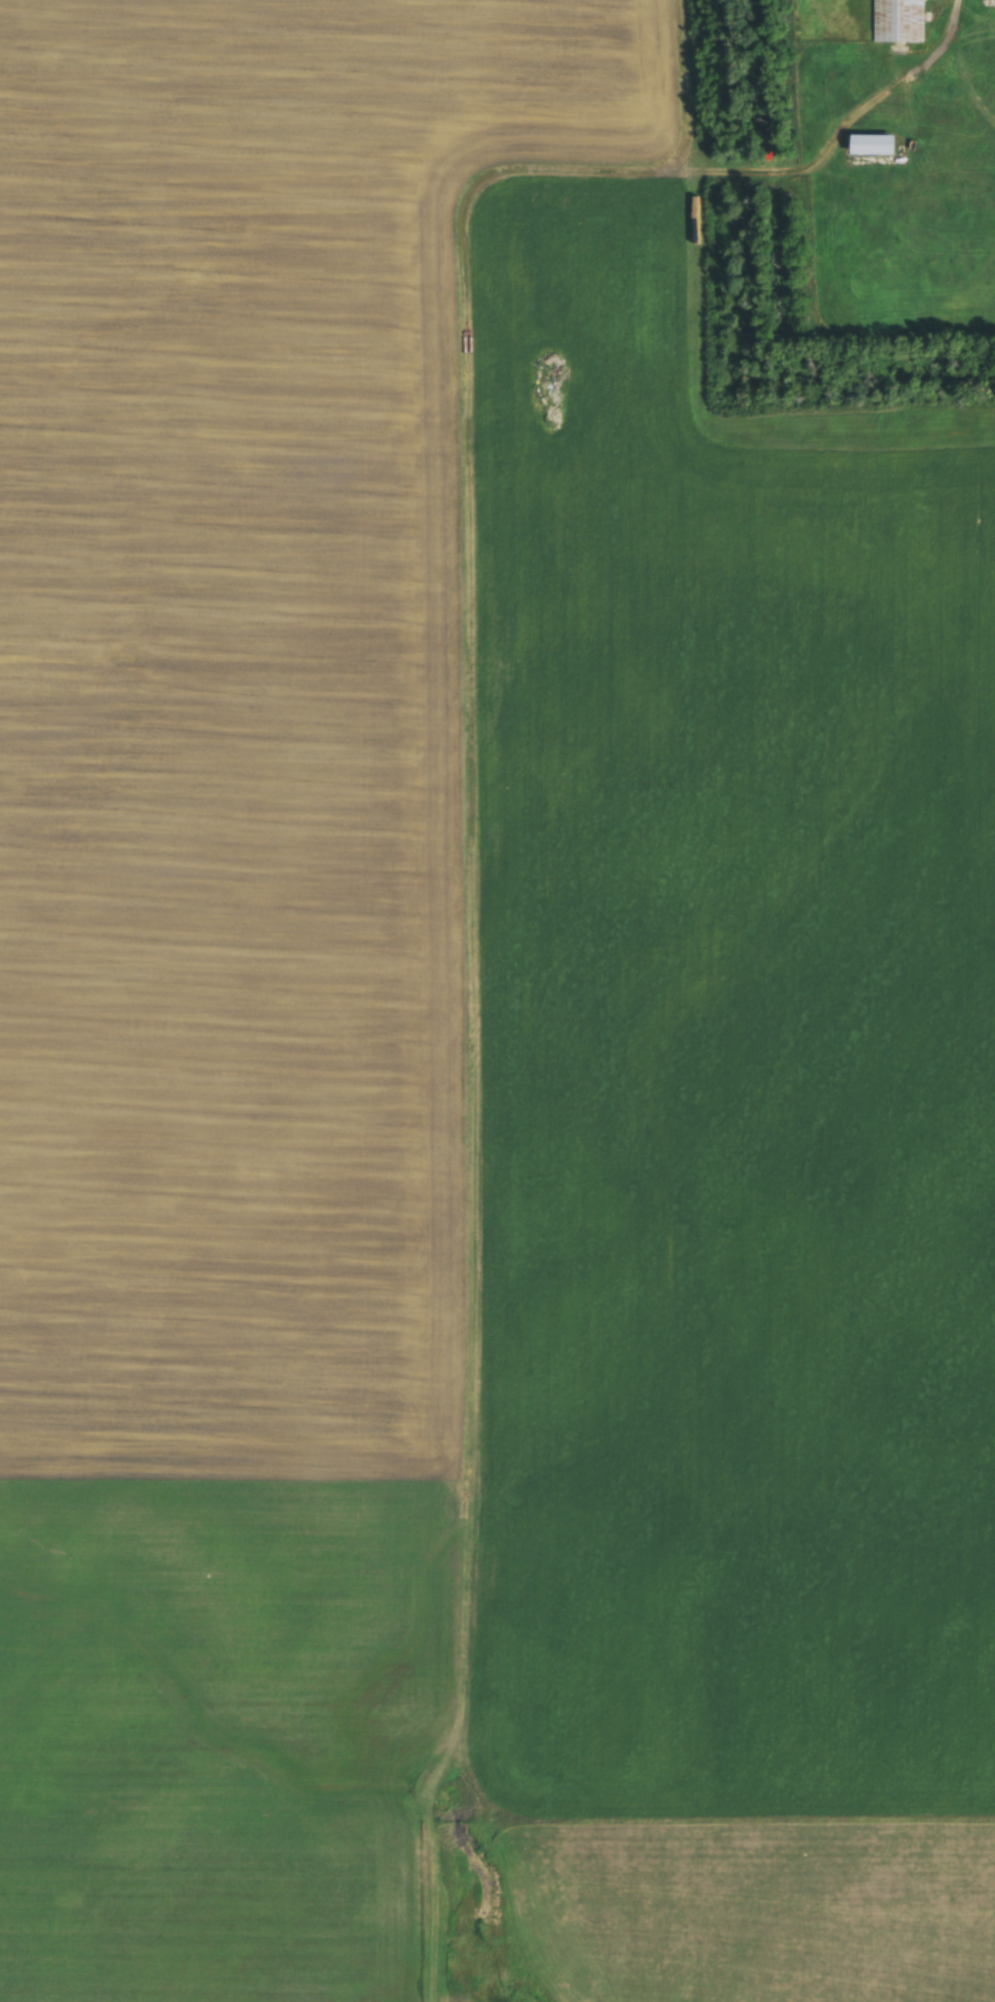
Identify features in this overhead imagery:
building: (899, 22)
building: (874, 147)

